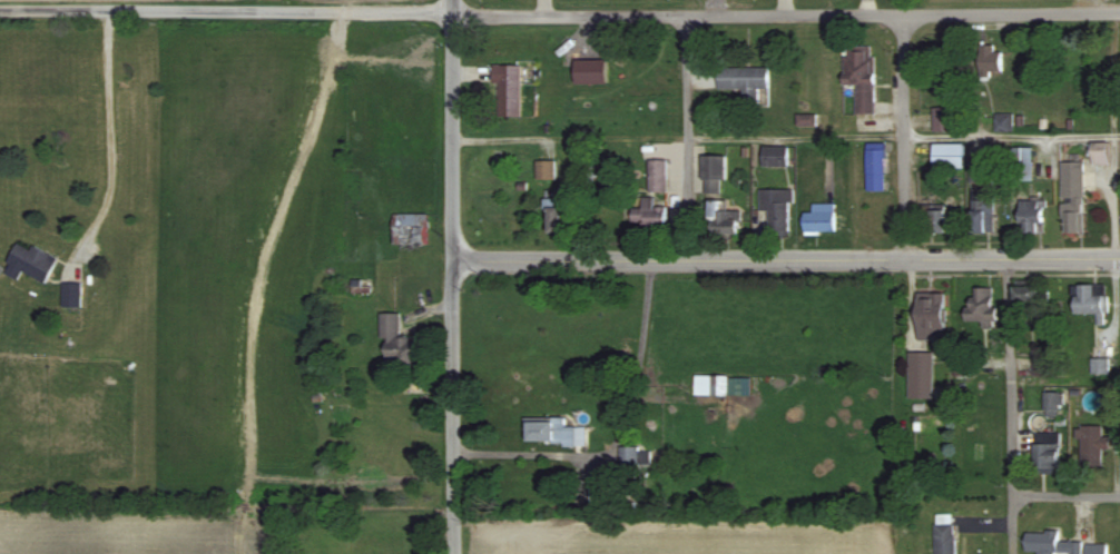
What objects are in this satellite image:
road: (226, 12)
road: (786, 17)
building: (990, 61)
building: (859, 76)
building: (744, 81)
building: (508, 90)
building: (942, 120)
building: (1003, 122)
road: (903, 137)
road: (110, 138)
road: (687, 139)
road: (1012, 139)
road: (796, 140)
building: (1099, 154)
building: (775, 156)
building: (949, 156)
building: (1022, 165)
building: (875, 168)
building: (546, 169)
building: (714, 174)
building: (658, 175)
building: (979, 175)
building: (1072, 198)
building: (776, 209)
building: (559, 210)
building: (982, 211)
building: (650, 215)
building: (1032, 216)
building: (724, 218)
building: (819, 219)
building: (933, 222)
building: (410, 229)
road: (786, 260)
building: (29, 263)
road: (452, 277)
building: (71, 295)
building: (1091, 299)
building: (1028, 300)
building: (982, 306)
building: (931, 316)
building: (400, 345)
building: (1042, 362)
building: (1099, 366)
building: (726, 387)
building: (1052, 405)
road: (1011, 406)
building: (554, 432)
building: (1090, 446)
building: (1045, 453)
building: (636, 458)
road: (1067, 502)
building: (944, 534)
building: (1049, 544)

